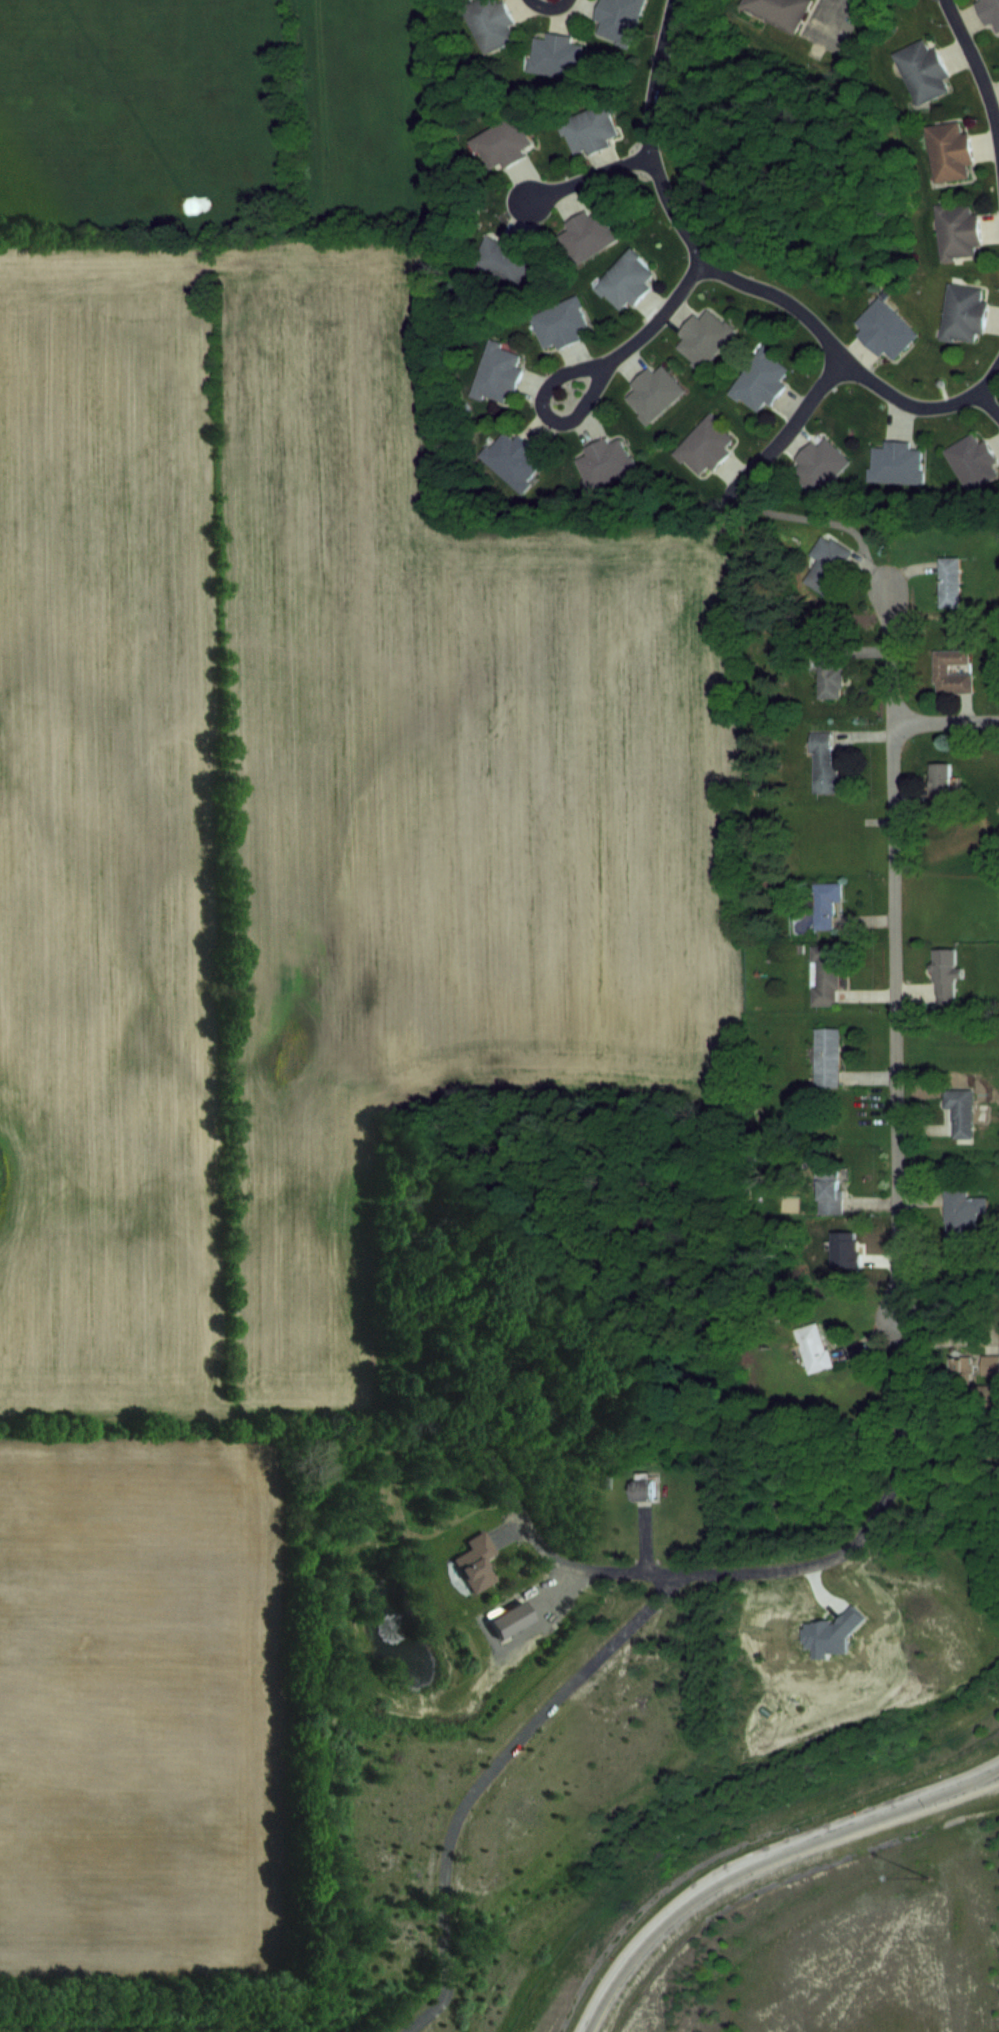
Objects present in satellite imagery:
road: (548, 7)
building: (780, 12)
building: (989, 13)
building: (617, 20)
building: (490, 26)
building: (554, 56)
road: (976, 70)
building: (923, 71)
building: (588, 131)
building: (502, 145)
building: (949, 152)
road: (591, 176)
building: (957, 231)
building: (588, 236)
building: (505, 260)
building: (625, 281)
road: (740, 282)
building: (963, 312)
building: (560, 325)
building: (885, 330)
building: (702, 339)
road: (584, 368)
building: (497, 373)
building: (760, 380)
building: (653, 394)
road: (790, 425)
building: (705, 447)
building: (512, 460)
building: (604, 463)
building: (896, 463)
building: (973, 463)
building: (818, 466)
building: (826, 563)
building: (949, 581)
building: (951, 672)
building: (829, 677)
road: (945, 722)
building: (823, 764)
building: (940, 781)
crop: (266, 886)
building: (824, 903)
building: (824, 974)
building: (945, 975)
building: (827, 1056)
building: (961, 1110)
building: (831, 1188)
building: (962, 1211)
road: (897, 1248)
road: (948, 1339)
building: (813, 1347)
building: (990, 1364)
building: (963, 1366)
building: (989, 1396)
building: (644, 1485)
building: (476, 1562)
road: (488, 1776)
road: (978, 1777)
road: (762, 1860)

